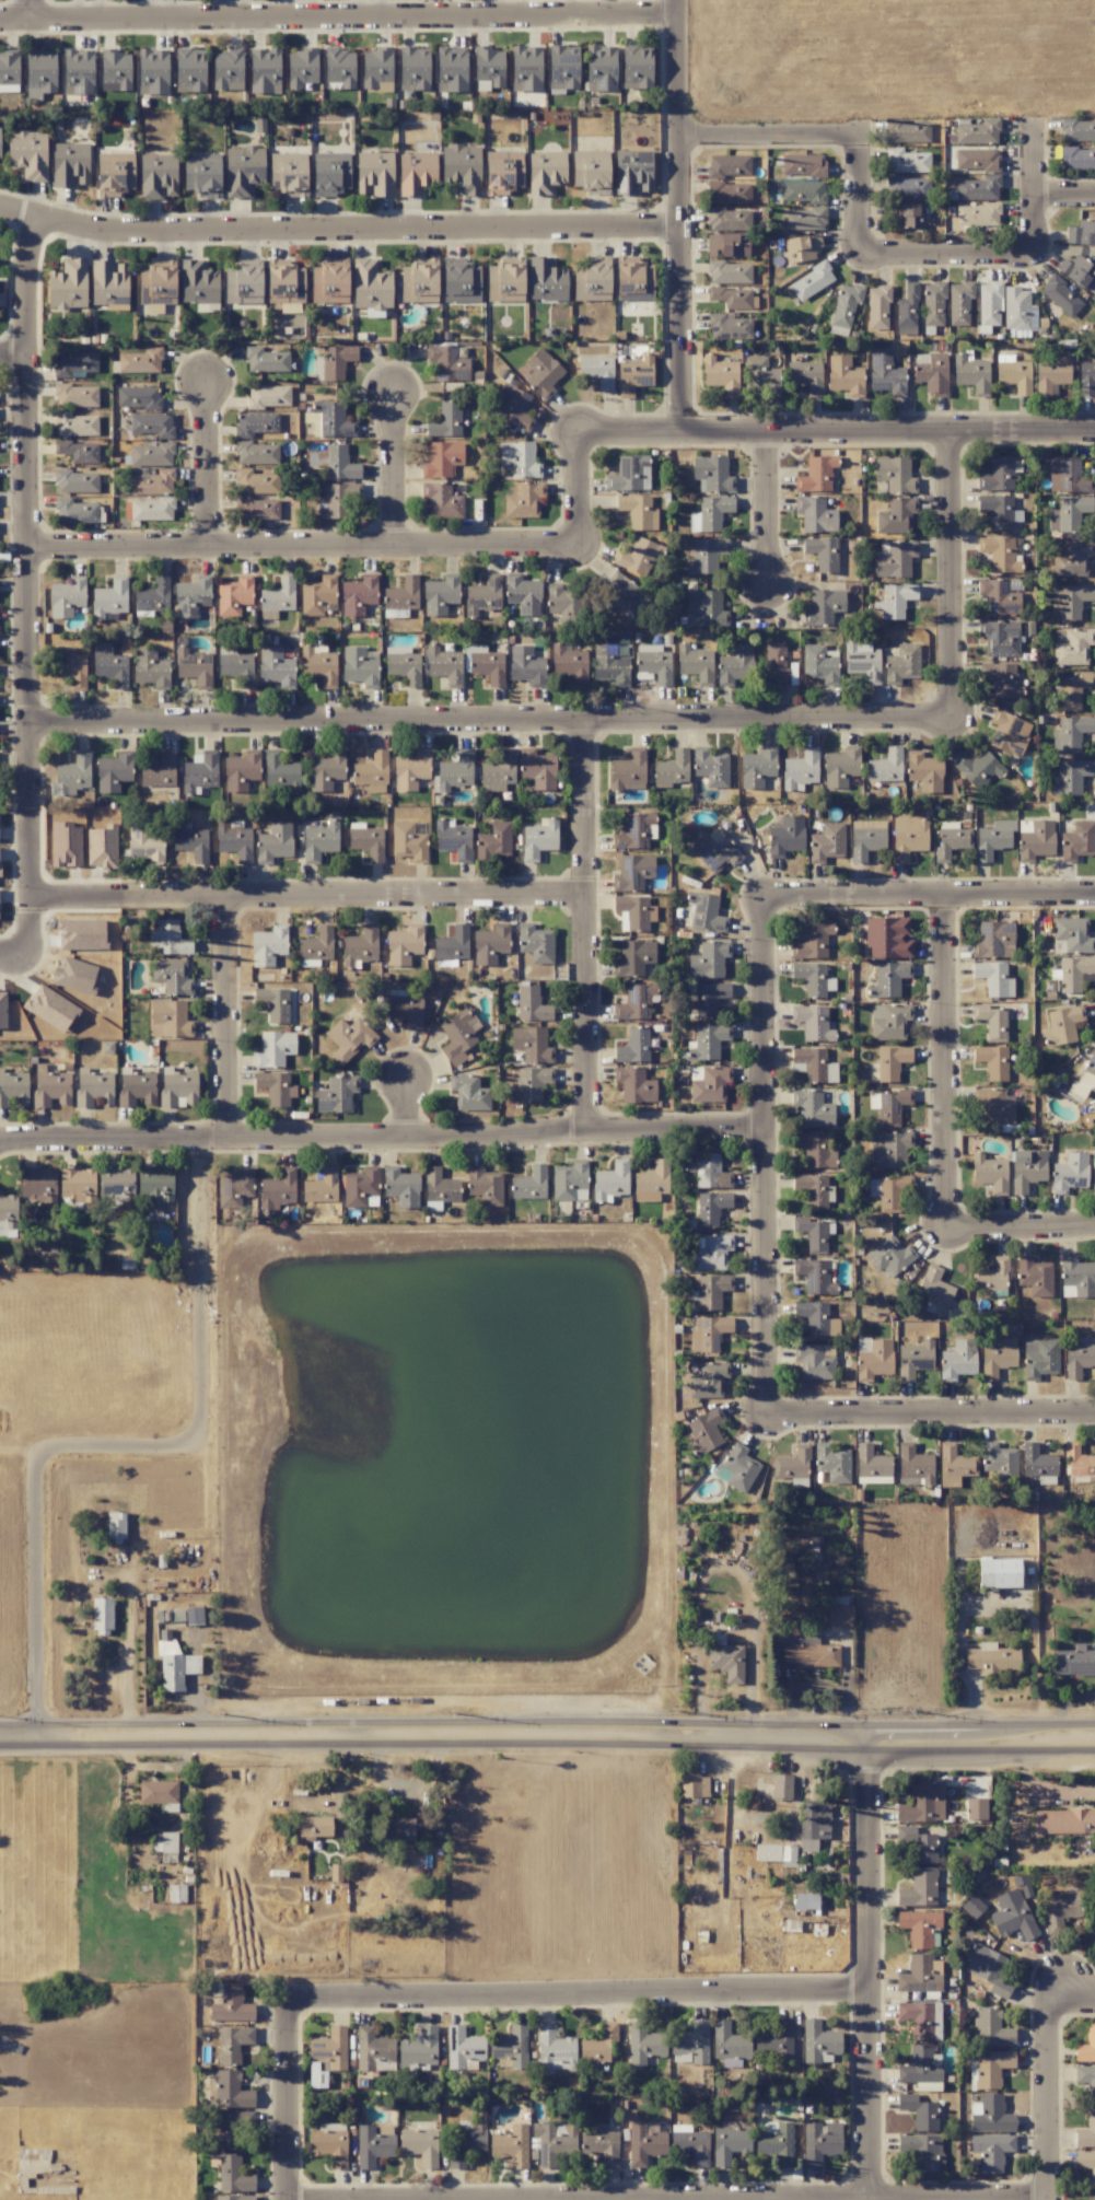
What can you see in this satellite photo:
road: (31, 10)
road: (338, 18)
building: (78, 61)
building: (301, 67)
building: (339, 67)
building: (489, 67)
building: (562, 67)
building: (637, 67)
building: (526, 68)
building: (601, 68)
building: (9, 69)
building: (413, 69)
building: (451, 69)
building: (189, 70)
building: (228, 70)
building: (265, 70)
building: (376, 70)
building: (152, 71)
building: (115, 72)
building: (39, 73)
building: (1077, 130)
building: (908, 131)
building: (977, 132)
road: (769, 138)
building: (28, 153)
building: (1077, 159)
building: (977, 160)
building: (907, 161)
building: (69, 164)
building: (729, 165)
building: (803, 165)
building: (462, 167)
building: (243, 170)
building: (546, 171)
building: (416, 172)
building: (503, 172)
building: (591, 172)
building: (114, 174)
building: (374, 174)
building: (331, 175)
building: (158, 176)
building: (201, 176)
building: (287, 176)
building: (908, 187)
building: (978, 188)
road: (1039, 189)
building: (803, 191)
building: (729, 193)
road: (1067, 195)
road: (861, 198)
building: (978, 214)
building: (910, 216)
road: (680, 217)
building: (729, 219)
building: (804, 219)
road: (339, 231)
building: (1081, 233)
building: (727, 245)
building: (801, 247)
road: (950, 257)
building: (1077, 271)
building: (729, 272)
building: (634, 278)
building: (546, 280)
building: (811, 281)
building: (505, 282)
building: (591, 282)
building: (198, 283)
building: (328, 283)
building: (461, 283)
building: (68, 284)
building: (286, 284)
building: (108, 286)
building: (156, 286)
building: (371, 286)
building: (1060, 295)
building: (731, 296)
building: (959, 303)
building: (933, 304)
building: (989, 304)
building: (844, 307)
building: (877, 307)
building: (1016, 309)
building: (907, 312)
building: (729, 327)
road: (14, 358)
building: (266, 360)
building: (140, 361)
building: (336, 361)
building: (446, 362)
building: (74, 363)
building: (597, 371)
building: (540, 372)
building: (885, 373)
building: (931, 373)
building: (1050, 373)
building: (971, 374)
building: (632, 375)
building: (721, 375)
building: (760, 375)
building: (1015, 375)
building: (806, 376)
building: (844, 376)
building: (1086, 379)
building: (75, 395)
building: (268, 396)
building: (138, 397)
building: (515, 408)
building: (333, 419)
building: (444, 420)
building: (255, 423)
building: (74, 424)
building: (152, 424)
road: (837, 432)
building: (78, 451)
building: (256, 453)
building: (151, 454)
building: (442, 459)
building: (520, 459)
building: (339, 463)
road: (211, 465)
road: (396, 468)
building: (629, 474)
building: (711, 474)
building: (895, 474)
building: (999, 474)
building: (816, 475)
building: (77, 481)
building: (255, 481)
building: (152, 482)
road: (582, 490)
building: (338, 500)
building: (524, 500)
building: (441, 501)
building: (257, 508)
building: (151, 509)
road: (30, 510)
road: (772, 510)
building: (998, 510)
building: (74, 511)
building: (638, 511)
building: (712, 512)
building: (815, 514)
building: (1069, 514)
building: (896, 515)
road: (307, 544)
building: (823, 554)
building: (1000, 554)
building: (638, 556)
building: (706, 556)
building: (894, 559)
building: (1072, 559)
road: (955, 577)
building: (485, 593)
building: (401, 594)
building: (440, 594)
building: (523, 594)
building: (153, 595)
building: (234, 595)
building: (278, 595)
building: (316, 595)
building: (358, 595)
building: (191, 596)
building: (621, 596)
building: (1000, 596)
building: (67, 597)
building: (109, 598)
building: (896, 600)
building: (1072, 601)
building: (563, 603)
building: (823, 607)
building: (704, 609)
building: (1000, 638)
building: (1071, 645)
building: (862, 660)
building: (569, 663)
building: (654, 663)
building: (695, 663)
building: (776, 663)
building: (735, 664)
building: (819, 664)
building: (902, 664)
building: (109, 665)
building: (404, 665)
building: (444, 665)
building: (487, 665)
building: (526, 665)
building: (70, 666)
building: (318, 666)
building: (360, 666)
building: (193, 667)
building: (236, 667)
building: (610, 667)
building: (150, 668)
building: (276, 668)
building: (1001, 679)
building: (1073, 690)
road: (496, 721)
building: (1007, 732)
building: (1070, 733)
building: (885, 766)
building: (710, 767)
building: (840, 767)
building: (673, 768)
building: (757, 768)
building: (976, 768)
building: (537, 769)
building: (801, 769)
building: (241, 770)
building: (326, 770)
building: (410, 770)
building: (629, 770)
building: (114, 771)
building: (160, 771)
building: (280, 771)
building: (455, 771)
building: (924, 771)
building: (372, 772)
building: (498, 772)
building: (71, 775)
building: (1070, 777)
building: (633, 831)
building: (785, 835)
building: (908, 837)
building: (539, 838)
building: (951, 839)
building: (992, 839)
building: (234, 840)
building: (319, 840)
building: (1036, 840)
building: (493, 841)
building: (866, 841)
building: (1077, 841)
building: (191, 842)
building: (273, 842)
building: (366, 842)
building: (408, 842)
building: (827, 842)
building: (144, 843)
building: (65, 845)
building: (101, 848)
building: (715, 851)
building: (632, 872)
road: (27, 885)
road: (359, 896)
road: (929, 896)
road: (79, 899)
building: (633, 911)
building: (706, 912)
road: (589, 928)
building: (81, 933)
building: (1071, 936)
building: (887, 938)
building: (168, 939)
building: (993, 940)
building: (812, 941)
building: (536, 943)
building: (452, 944)
building: (490, 944)
building: (268, 945)
building: (316, 945)
building: (404, 945)
building: (360, 946)
building: (633, 957)
building: (709, 959)
building: (1073, 973)
building: (171, 976)
building: (811, 978)
building: (888, 979)
building: (993, 979)
building: (709, 998)
building: (636, 1002)
building: (273, 1003)
building: (532, 1004)
building: (405, 1009)
building: (2, 1010)
building: (51, 1010)
road: (229, 1018)
building: (170, 1020)
building: (889, 1022)
building: (991, 1022)
building: (813, 1023)
building: (1061, 1025)
building: (458, 1035)
building: (349, 1038)
building: (708, 1041)
building: (531, 1044)
building: (633, 1046)
building: (273, 1049)
road: (947, 1061)
building: (992, 1061)
building: (890, 1062)
building: (812, 1064)
building: (531, 1084)
building: (634, 1085)
building: (708, 1085)
building: (94, 1087)
building: (276, 1087)
building: (13, 1089)
building: (136, 1089)
building: (178, 1089)
building: (468, 1093)
building: (336, 1094)
building: (993, 1106)
road: (411, 1107)
building: (892, 1107)
building: (812, 1108)
road: (381, 1140)
building: (814, 1150)
building: (890, 1150)
road: (764, 1156)
building: (710, 1172)
building: (1027, 1172)
building: (989, 1173)
building: (1070, 1173)
building: (570, 1182)
building: (651, 1182)
building: (77, 1184)
building: (116, 1184)
building: (529, 1184)
building: (37, 1185)
building: (485, 1185)
building: (440, 1186)
building: (155, 1187)
building: (234, 1187)
building: (360, 1187)
building: (401, 1187)
building: (319, 1188)
building: (812, 1189)
building: (278, 1190)
building: (888, 1191)
building: (710, 1208)
road: (1022, 1225)
building: (813, 1234)
building: (711, 1253)
building: (890, 1256)
building: (814, 1276)
building: (991, 1276)
building: (1034, 1276)
building: (1076, 1278)
building: (933, 1288)
building: (710, 1292)
building: (816, 1318)
building: (708, 1334)
building: (998, 1358)
building: (1039, 1358)
building: (1079, 1358)
building: (915, 1359)
building: (874, 1360)
building: (957, 1360)
building: (814, 1362)
building: (708, 1381)
road: (933, 1417)
building: (706, 1430)
road: (126, 1450)
road: (24, 1455)
building: (1079, 1460)
building: (1000, 1462)
building: (832, 1463)
building: (792, 1464)
building: (915, 1464)
building: (1038, 1464)
building: (871, 1465)
building: (954, 1465)
building: (739, 1468)
building: (115, 1525)
road: (723, 1567)
building: (999, 1573)
building: (840, 1615)
building: (102, 1616)
building: (807, 1651)
building: (725, 1658)
building: (991, 1658)
building: (1073, 1661)
building: (174, 1664)
road: (128, 1668)
road: (547, 1722)
road: (547, 1743)
building: (694, 1785)
building: (781, 1786)
building: (158, 1792)
building: (922, 1804)
building: (976, 1808)
building: (1064, 1821)
building: (814, 1825)
building: (314, 1827)
building: (406, 1828)
building: (918, 1843)
building: (166, 1847)
building: (773, 1852)
building: (918, 1888)
building: (805, 1901)
building: (1059, 1912)
building: (1012, 1916)
building: (919, 1927)
road: (866, 1962)
building: (988, 1969)
building: (920, 1975)
road: (576, 1995)
building: (231, 2004)
road: (1073, 2004)
building: (921, 2019)
building: (990, 2027)
building: (777, 2039)
building: (691, 2041)
building: (818, 2041)
building: (233, 2042)
building: (729, 2042)
building: (598, 2044)
building: (643, 2044)
building: (511, 2046)
building: (1086, 2046)
building: (463, 2047)
building: (419, 2048)
building: (329, 2049)
building: (373, 2050)
building: (554, 2050)
building: (920, 2065)
building: (991, 2068)
building: (1086, 2081)
building: (231, 2091)
road: (284, 2098)
road: (1049, 2102)
building: (919, 2111)
building: (236, 2129)
building: (1086, 2131)
building: (468, 2139)
building: (820, 2141)
building: (554, 2142)
building: (644, 2143)
building: (729, 2144)
building: (777, 2144)
building: (329, 2145)
building: (420, 2145)
building: (511, 2145)
building: (601, 2145)
building: (372, 2146)
building: (691, 2146)
building: (991, 2151)
building: (927, 2153)
building: (1086, 2164)
building: (233, 2174)
building: (233, 2198)
road: (883, 2198)

